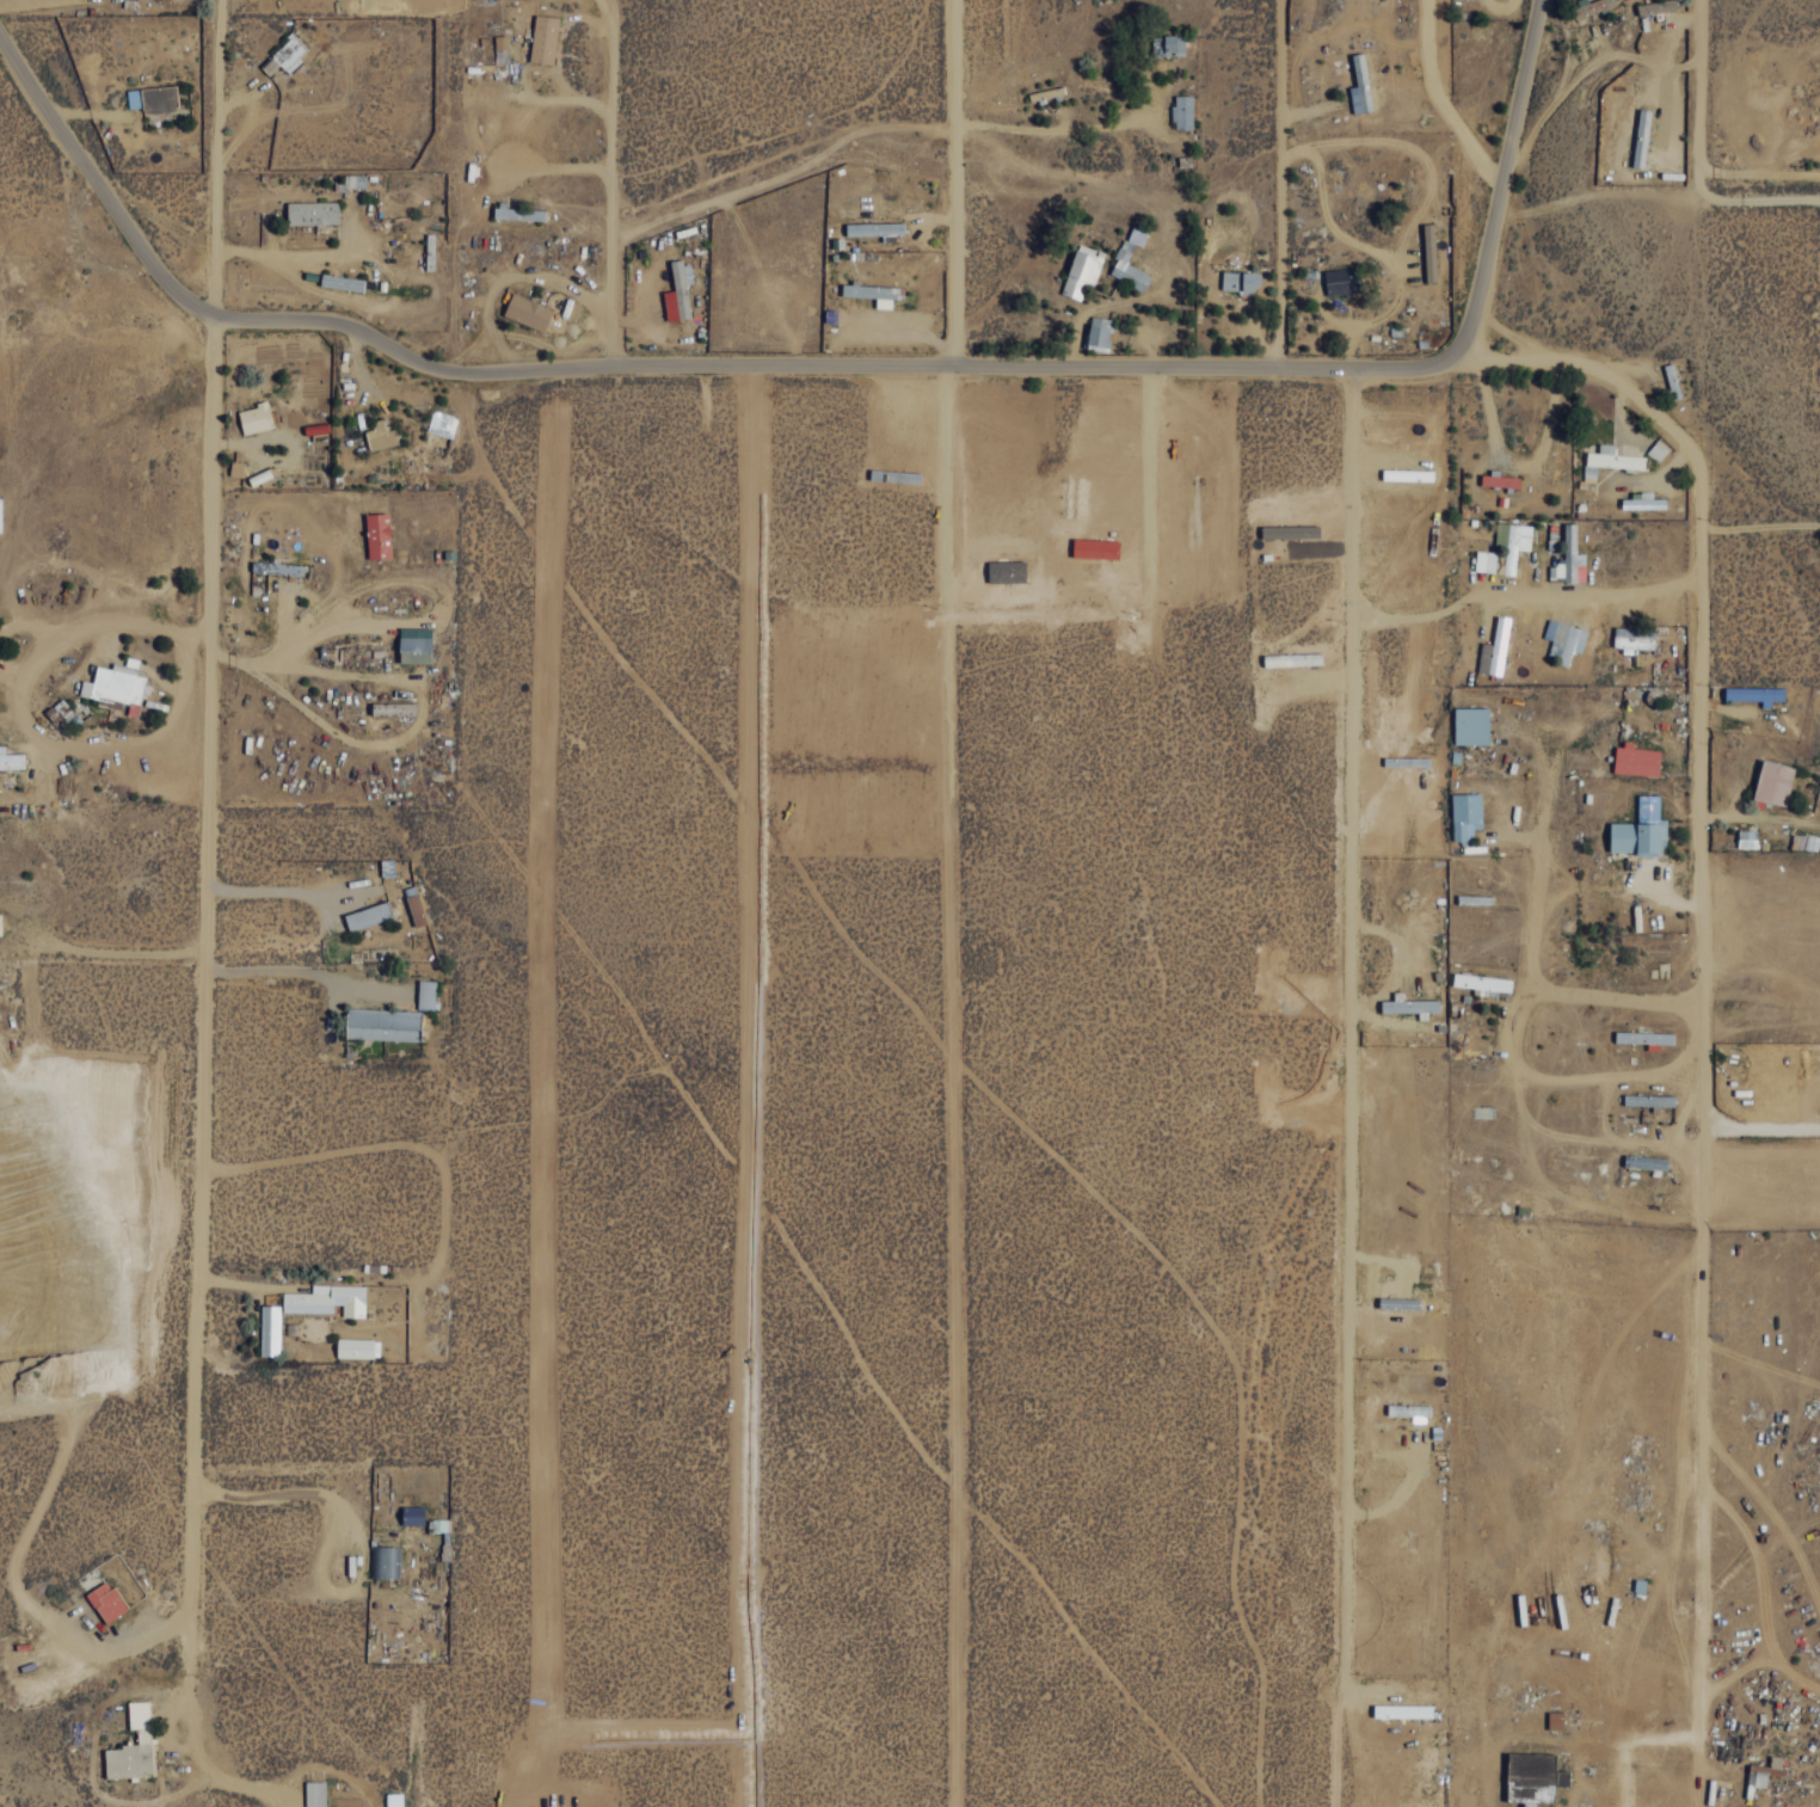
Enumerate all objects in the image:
building: (1658, 6)
building: (543, 37)
building: (1168, 44)
building: (500, 48)
building: (285, 55)
building: (1360, 85)
building: (152, 97)
building: (1182, 111)
building: (1641, 136)
road: (217, 160)
building: (355, 179)
road: (954, 183)
road: (611, 188)
building: (312, 211)
building: (517, 211)
building: (874, 228)
building: (1429, 251)
building: (1124, 254)
building: (1082, 269)
building: (1240, 279)
building: (1340, 279)
building: (340, 281)
building: (678, 291)
building: (873, 293)
building: (527, 311)
building: (1099, 332)
road: (832, 363)
building: (256, 417)
building: (380, 435)
building: (1658, 449)
building: (1609, 460)
building: (235, 468)
building: (1407, 473)
building: (1499, 479)
building: (1643, 500)
building: (1290, 530)
building: (377, 534)
building: (1095, 548)
building: (1504, 548)
building: (1570, 557)
building: (278, 567)
building: (1007, 571)
building: (1634, 638)
building: (1563, 639)
building: (414, 644)
building: (1494, 649)
road: (1699, 654)
building: (1292, 658)
building: (116, 686)
building: (1756, 694)
building: (393, 708)
building: (1471, 725)
building: (11, 760)
building: (1636, 760)
building: (1773, 782)
building: (1465, 815)
building: (1641, 830)
building: (1747, 837)
building: (387, 866)
building: (414, 909)
building: (368, 915)
building: (0, 924)
building: (1482, 983)
building: (426, 994)
building: (1409, 1004)
building: (382, 1024)
building: (1644, 1038)
road: (203, 1049)
building: (1649, 1100)
building: (1646, 1161)
building: (327, 1299)
building: (1398, 1303)
building: (270, 1329)
building: (357, 1347)
building: (1410, 1410)
building: (412, 1514)
building: (386, 1562)
building: (106, 1600)
building: (1402, 1710)
building: (1555, 1719)
building: (131, 1746)
building: (1760, 1774)
building: (1532, 1777)
building: (314, 1793)
building: (394, 1799)

